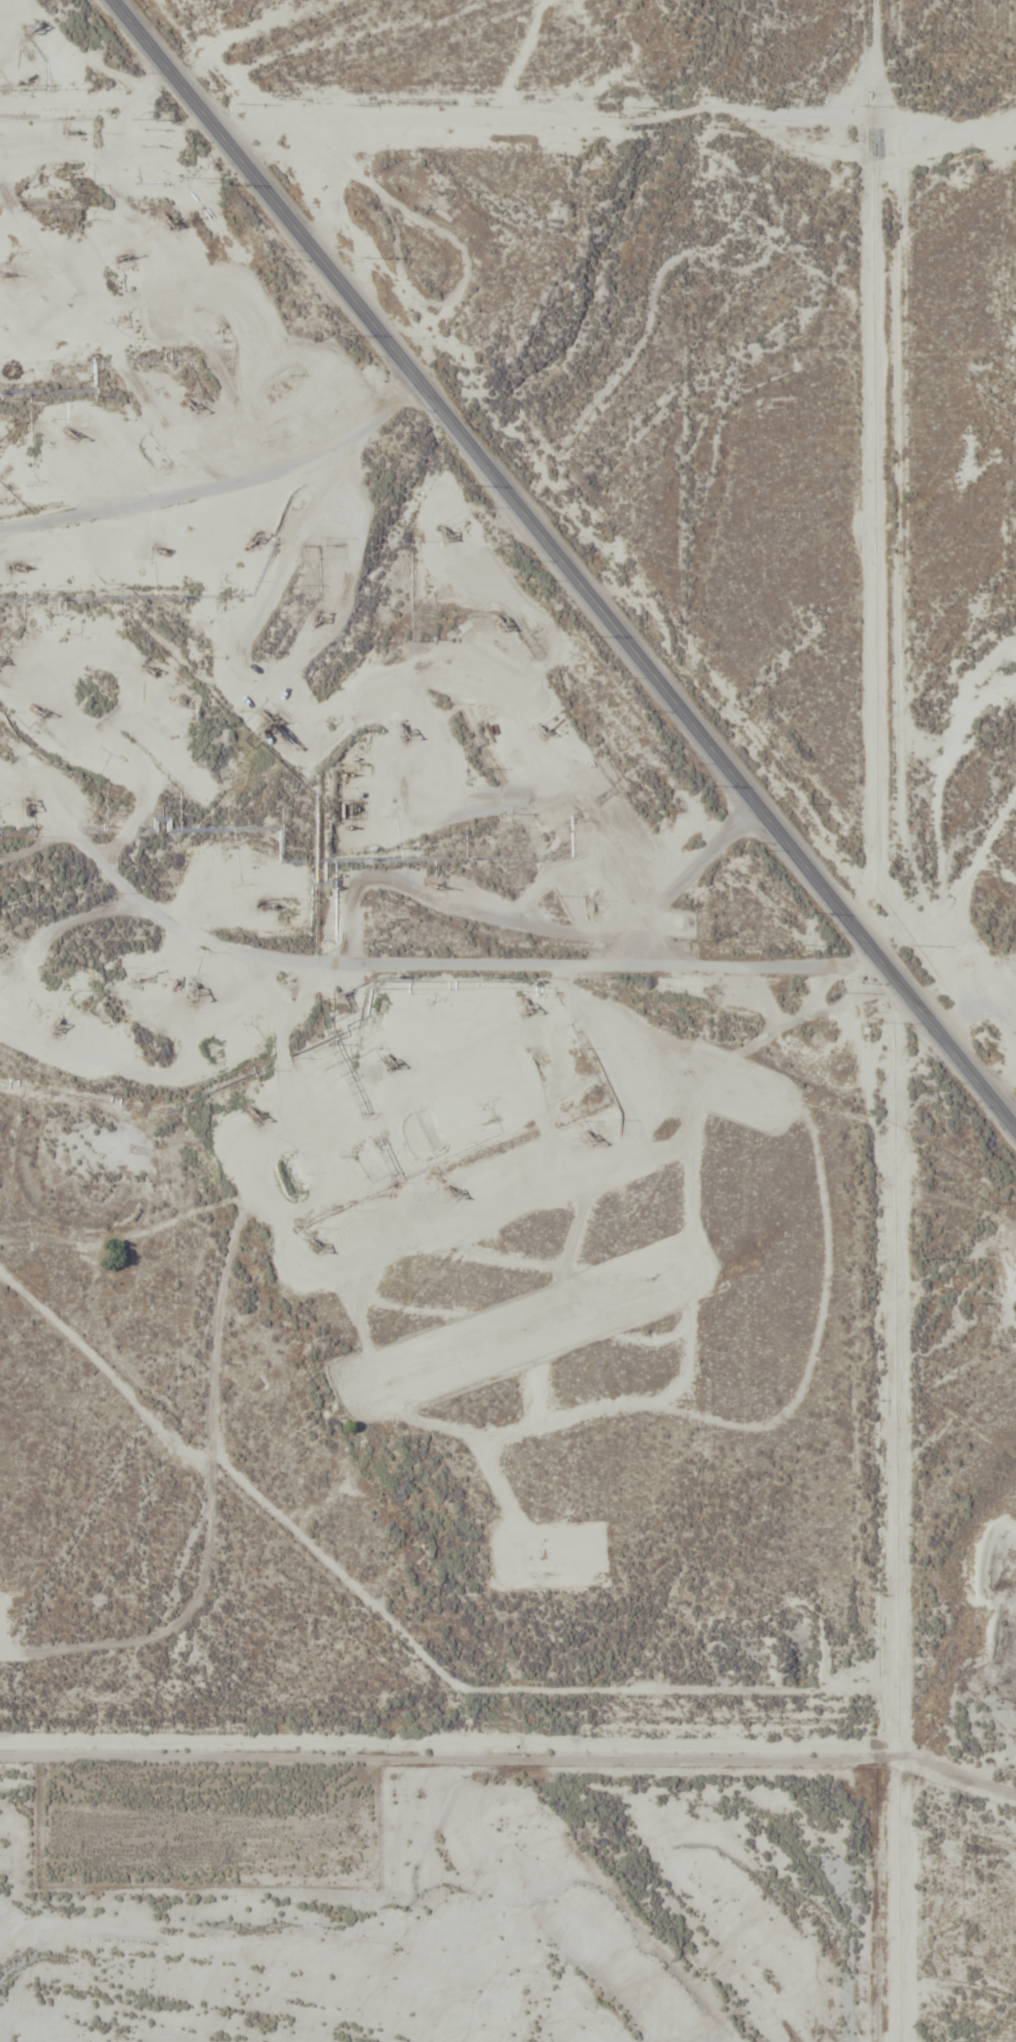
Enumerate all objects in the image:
road: (220, 490)
road: (561, 567)
building: (158, 825)
road: (502, 964)
road: (877, 1021)
road: (479, 1146)
road: (225, 1279)
road: (494, 1654)
road: (445, 1738)
road: (959, 1976)

